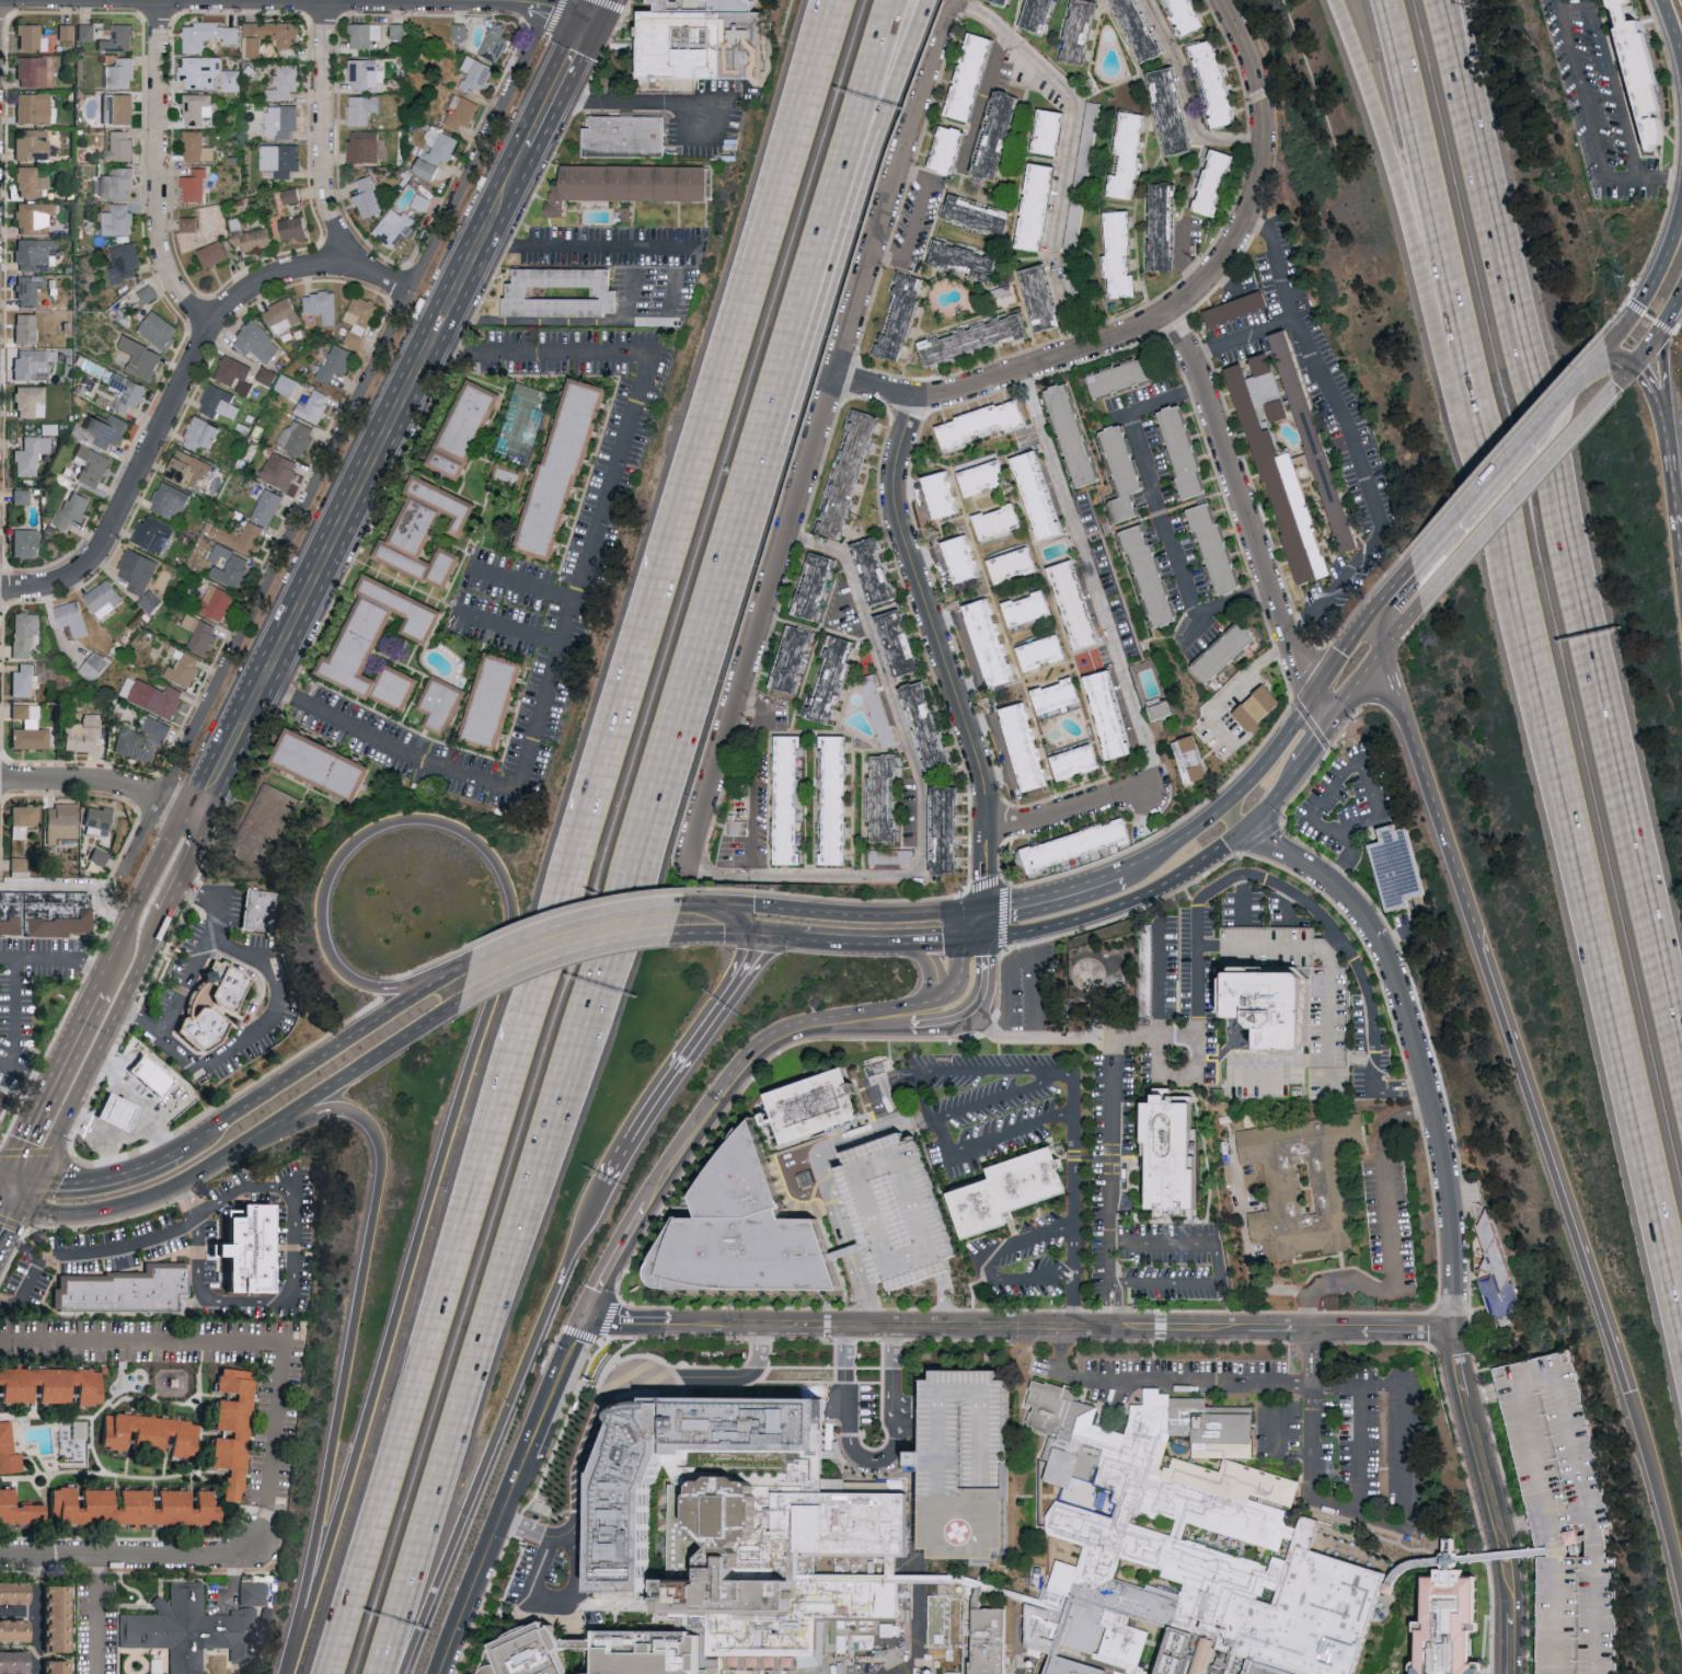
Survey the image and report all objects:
building: (1003, 1)
road: (546, 9)
road: (594, 12)
building: (1041, 14)
building: (1190, 15)
traffic signals: (588, 25)
building: (1142, 28)
building: (399, 30)
building: (66, 31)
building: (85, 31)
building: (460, 31)
building: (1082, 31)
road: (1673, 32)
building: (208, 34)
building: (366, 35)
building: (32, 37)
building: (119, 38)
building: (255, 41)
building: (496, 42)
building: (694, 42)
building: (32, 71)
building: (200, 71)
building: (120, 72)
building: (367, 72)
building: (476, 73)
building: (1638, 74)
building: (976, 76)
road: (1610, 77)
building: (232, 80)
building: (286, 82)
building: (1217, 82)
road: (874, 83)
road: (885, 83)
road: (558, 85)
road: (1185, 99)
road: (676, 101)
parking lot: (1599, 102)
building: (33, 108)
building: (197, 108)
building: (362, 108)
building: (1175, 111)
road: (1477, 114)
road: (1465, 115)
building: (283, 119)
road: (1592, 127)
building: (1056, 130)
road: (323, 131)
building: (1002, 134)
building: (626, 136)
building: (1090, 142)
building: (32, 145)
building: (119, 145)
building: (364, 146)
building: (197, 147)
building: (952, 149)
building: (438, 152)
building: (1130, 153)
road: (1069, 157)
building: (281, 159)
road: (1263, 169)
road: (1399, 169)
road: (157, 170)
road: (1424, 172)
building: (30, 182)
building: (119, 182)
building: (1217, 182)
building: (631, 183)
building: (195, 184)
building: (291, 195)
building: (368, 197)
building: (422, 201)
building: (1041, 206)
building: (982, 215)
building: (35, 218)
building: (119, 219)
building: (189, 223)
building: (1166, 226)
building: (395, 227)
building: (293, 228)
building: (250, 235)
road: (591, 246)
building: (35, 253)
building: (214, 254)
building: (1122, 254)
road: (1667, 255)
building: (968, 259)
building: (126, 261)
road: (1180, 261)
road: (1277, 267)
road: (753, 281)
building: (28, 289)
building: (563, 291)
road: (632, 295)
building: (1046, 297)
building: (322, 305)
building: (1241, 307)
road: (1675, 307)
building: (283, 315)
building: (903, 315)
building: (360, 320)
road: (583, 320)
building: (26, 327)
road: (1624, 327)
building: (161, 330)
traffic signals: (1624, 330)
building: (978, 338)
building: (257, 342)
road: (1651, 344)
building: (142, 358)
traffic signals: (1659, 358)
road: (1618, 360)
building: (337, 361)
building: (34, 363)
building: (235, 373)
road: (1660, 373)
building: (266, 374)
road: (1006, 376)
building: (1125, 376)
traffic signals: (1638, 377)
road: (1622, 379)
road: (180, 384)
building: (287, 384)
traffic signals: (1617, 385)
road: (1649, 386)
building: (128, 391)
road: (1566, 393)
road: (1165, 400)
building: (31, 401)
building: (220, 401)
building: (315, 406)
road: (1121, 415)
building: (984, 423)
park: (520, 425)
building: (465, 428)
building: (108, 429)
road: (821, 430)
building: (203, 432)
building: (1073, 432)
road: (1350, 435)
building: (297, 437)
building: (1317, 439)
road: (335, 441)
road: (1663, 441)
building: (1186, 451)
building: (31, 454)
building: (92, 464)
building: (568, 466)
building: (281, 470)
building: (508, 471)
building: (1284, 471)
building: (1124, 472)
building: (853, 473)
building: (989, 476)
road: (360, 485)
road: (1517, 493)
building: (946, 494)
building: (1044, 494)
building: (21, 496)
building: (171, 500)
road: (1470, 500)
road: (1243, 503)
road: (1673, 505)
building: (268, 506)
building: (73, 508)
road: (1164, 518)
building: (1003, 520)
building: (428, 532)
building: (157, 533)
building: (242, 535)
building: (26, 542)
building: (1219, 550)
road: (1680, 550)
building: (967, 558)
road: (728, 561)
building: (229, 565)
building: (1018, 565)
building: (139, 570)
building: (878, 570)
building: (1151, 575)
road: (1091, 577)
road: (521, 582)
building: (817, 586)
road: (1395, 586)
road: (575, 590)
building: (105, 598)
building: (216, 600)
building: (150, 601)
road: (1234, 603)
building: (1084, 604)
building: (1033, 609)
road: (1294, 614)
building: (73, 617)
road: (1403, 623)
road: (507, 626)
road: (1379, 626)
road: (1587, 631)
building: (25, 632)
building: (200, 632)
road: (1190, 635)
building: (362, 640)
building: (902, 643)
road: (1344, 648)
road: (944, 650)
building: (1047, 651)
building: (1228, 651)
building: (795, 658)
building: (96, 666)
building: (185, 669)
road: (1363, 670)
road: (1389, 671)
building: (25, 680)
building: (834, 680)
road: (1233, 686)
road: (1371, 693)
building: (1060, 695)
building: (155, 696)
building: (498, 701)
building: (440, 704)
road: (1322, 706)
building: (1164, 707)
building: (1261, 707)
road: (1338, 708)
building: (1113, 715)
building: (930, 726)
building: (30, 728)
building: (886, 729)
building: (83, 732)
building: (142, 739)
road: (1315, 742)
building: (1030, 747)
road: (1270, 751)
building: (1193, 759)
building: (1080, 761)
road: (1321, 761)
building: (326, 764)
road: (1366, 774)
road: (758, 778)
road: (103, 783)
road: (1282, 786)
road: (924, 794)
building: (887, 798)
building: (838, 799)
building: (790, 800)
road: (599, 806)
road: (1074, 810)
road: (1256, 818)
building: (23, 819)
road: (1235, 819)
building: (99, 820)
building: (62, 823)
road: (1440, 824)
building: (740, 827)
building: (946, 830)
road: (1276, 832)
road: (1565, 833)
road: (1240, 838)
building: (1082, 844)
road: (1177, 846)
road: (1260, 848)
building: (730, 850)
building: (99, 856)
building: (891, 856)
building: (20, 864)
building: (1404, 867)
road: (185, 870)
road: (74, 885)
road: (1291, 891)
road: (1340, 893)
road: (201, 894)
road: (1053, 898)
road: (1245, 899)
road: (136, 900)
traffic signals: (982, 908)
road: (1291, 908)
building: (257, 910)
road: (1115, 911)
road: (698, 912)
building: (44, 913)
road: (851, 913)
road: (740, 920)
road: (981, 923)
road: (714, 932)
traffic signals: (980, 938)
road: (568, 939)
road: (1392, 939)
road: (780, 940)
road: (891, 944)
road: (34, 957)
road: (1024, 958)
road: (84, 965)
road: (930, 971)
road: (188, 973)
road: (257, 980)
road: (450, 983)
building: (224, 984)
road: (933, 998)
road: (276, 1001)
road: (1329, 1001)
building: (1288, 1006)
road: (14, 1014)
road: (848, 1020)
road: (954, 1020)
building: (201, 1027)
road: (1163, 1031)
road: (160, 1036)
road: (777, 1038)
road: (1079, 1039)
road: (100, 1044)
road: (684, 1063)
road: (303, 1065)
road: (989, 1070)
road: (24, 1074)
building: (148, 1074)
road: (466, 1076)
road: (1069, 1077)
road: (45, 1082)
building: (877, 1084)
road: (1404, 1084)
building: (0, 1089)
road: (1406, 1093)
road: (1076, 1097)
building: (2, 1098)
road: (919, 1099)
road: (1000, 1100)
building: (813, 1106)
road: (888, 1106)
gas station: (115, 1110)
building: (120, 1111)
road: (882, 1129)
road: (257, 1131)
road: (1439, 1133)
traffic signals: (20, 1138)
road: (994, 1138)
road: (688, 1140)
building: (1185, 1157)
road: (792, 1159)
road: (1115, 1161)
road: (1080, 1166)
road: (1240, 1170)
road: (1559, 1170)
road: (58, 1171)
road: (826, 1171)
road: (107, 1174)
road: (16, 1176)
traffic signals: (64, 1179)
road: (833, 1185)
building: (1019, 1191)
road: (25, 1193)
road: (808, 1193)
road: (831, 1193)
road: (189, 1199)
road: (9, 1204)
building: (897, 1211)
parking garage: (897, 1211)
road: (8, 1225)
traffic signals: (5, 1232)
road: (1393, 1232)
building: (757, 1233)
building: (256, 1244)
road: (97, 1252)
road: (615, 1257)
road: (857, 1257)
road: (849, 1258)
road: (987, 1258)
road: (1220, 1263)
building: (1497, 1272)
road: (1079, 1277)
road: (291, 1279)
road: (1261, 1281)
building: (127, 1289)
road: (1072, 1298)
road: (945, 1302)
road: (9, 1304)
road: (1107, 1305)
road: (1119, 1305)
road: (498, 1314)
traffic signals: (588, 1314)
road: (604, 1317)
road: (647, 1319)
road: (1064, 1330)
road: (244, 1339)
road: (356, 1344)
road: (1310, 1358)
road: (1320, 1358)
road: (428, 1361)
road: (845, 1367)
road: (627, 1376)
road: (894, 1376)
road: (1461, 1377)
road: (1163, 1381)
building: (53, 1384)
road: (554, 1385)
road: (1313, 1385)
road: (1341, 1386)
traffic signals: (1631, 1390)
road: (1494, 1393)
road: (1312, 1394)
road: (1316, 1394)
road: (908, 1405)
building: (744, 1422)
building: (80, 1429)
building: (235, 1429)
road: (506, 1429)
building: (152, 1432)
building: (9, 1450)
road: (1278, 1451)
road: (877, 1461)
road: (1581, 1461)
building: (963, 1463)
parking garage: (963, 1463)
road: (1316, 1473)
road: (1487, 1485)
road: (1548, 1489)
road: (1660, 1489)
building: (631, 1497)
building: (135, 1505)
building: (20, 1508)
building: (1562, 1512)
parking lot: (1565, 1515)
road: (1590, 1516)
road: (1405, 1524)
road: (1527, 1525)
road: (532, 1528)
helipad: (963, 1529)
road: (128, 1556)
road: (1463, 1557)
road: (1448, 1562)
road: (480, 1566)
road: (1508, 1567)
building: (15, 1591)
building: (253, 1593)
building: (724, 1593)
road: (1602, 1593)
road: (554, 1603)
road: (38, 1615)
road: (93, 1615)
building: (59, 1617)
road: (918, 1618)
building: (940, 1621)
building: (1444, 1624)
building: (191, 1628)
building: (15, 1629)
building: (887, 1629)
road: (1513, 1631)
building: (993, 1641)
building: (15, 1660)
building: (59, 1666)
building: (1069, 1666)
road: (289, 1671)

